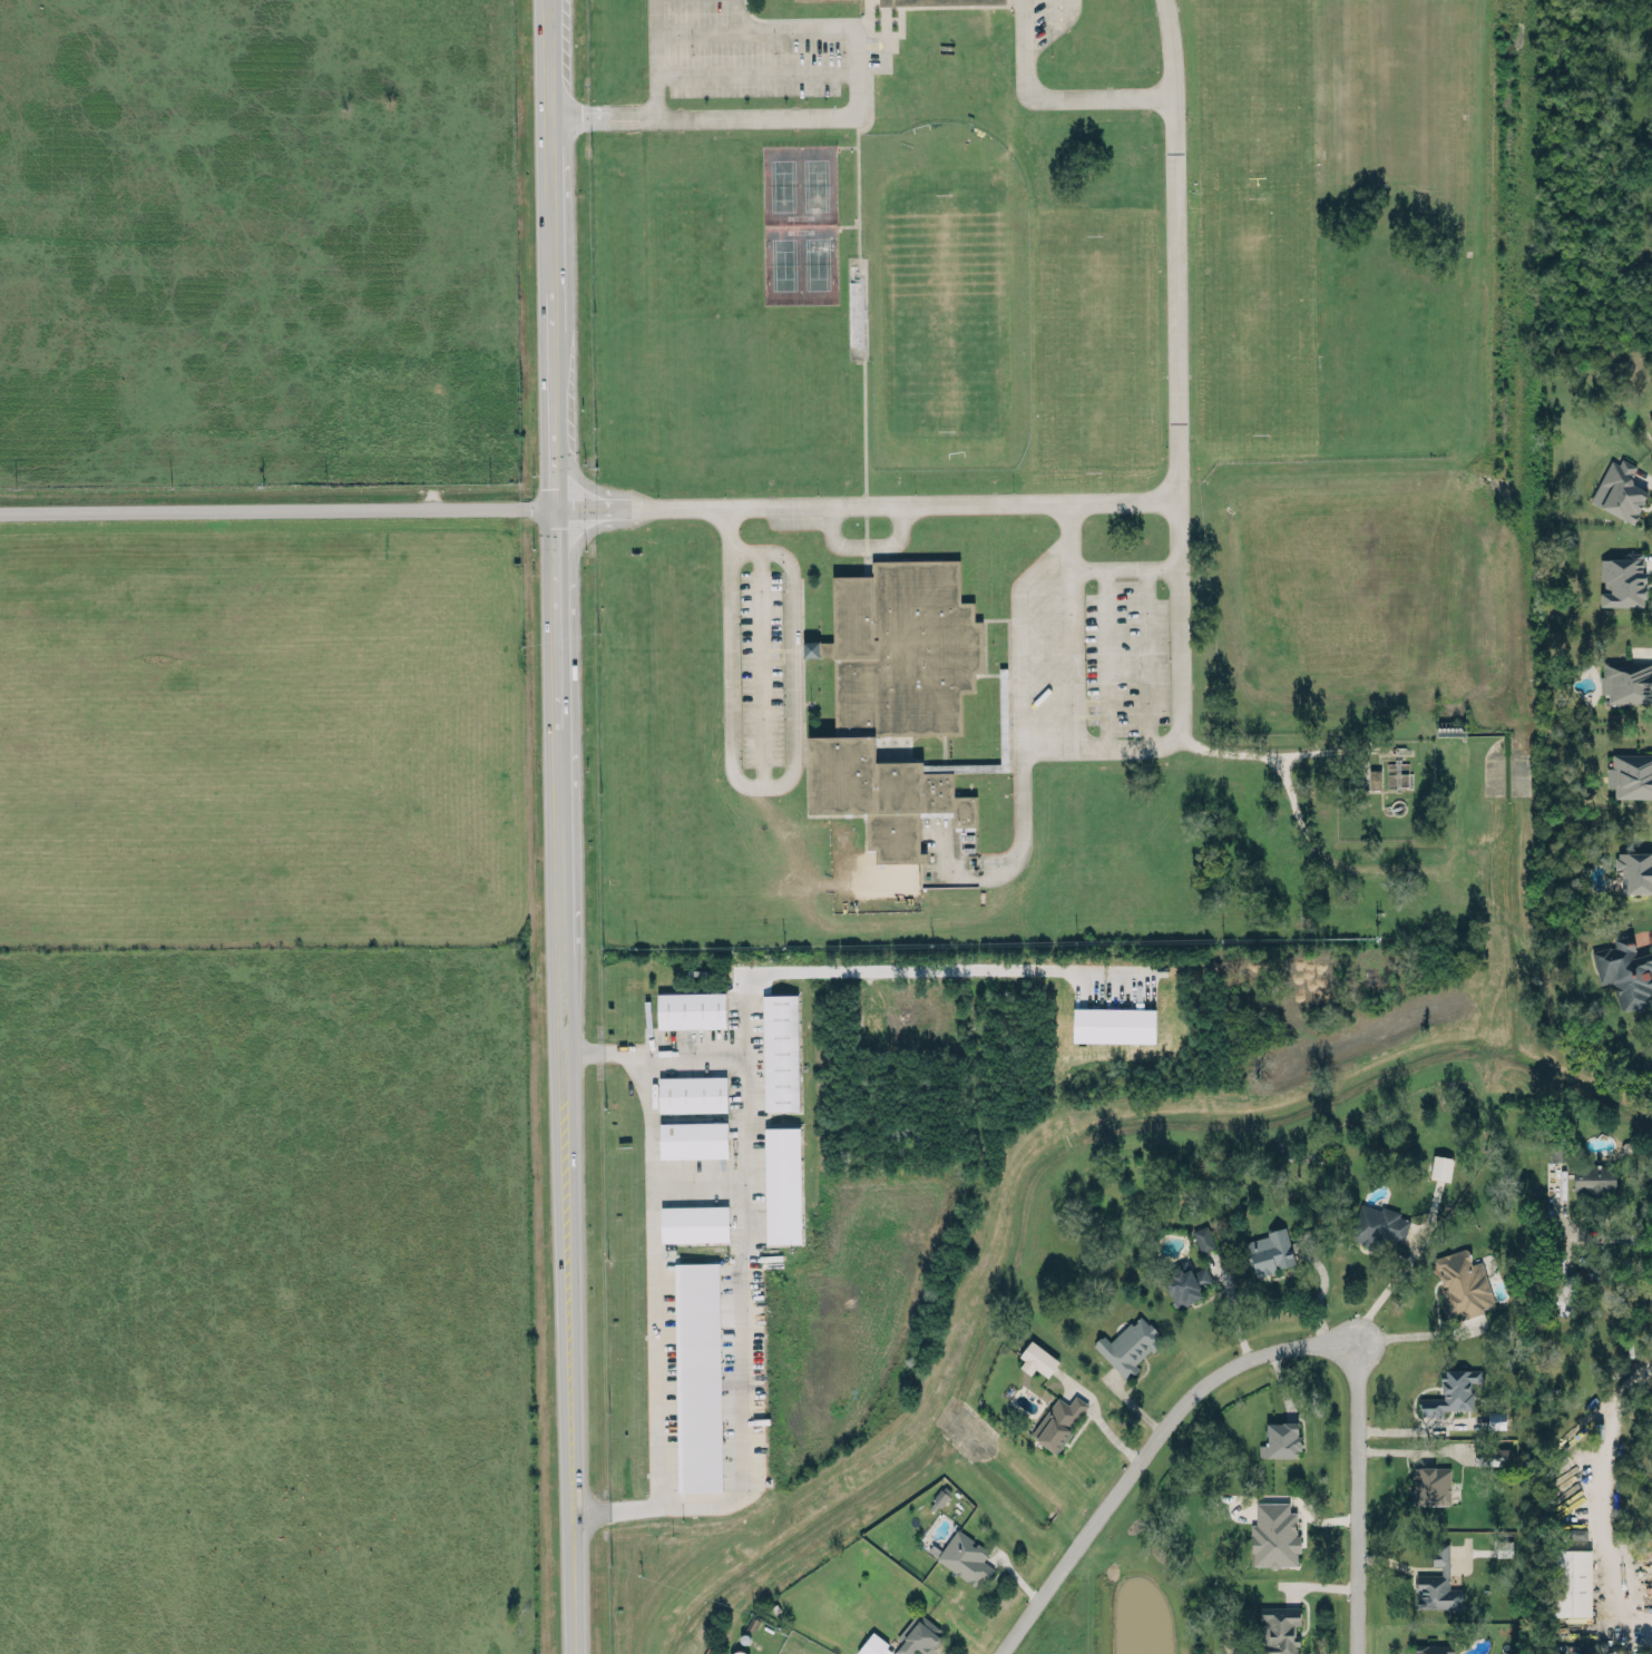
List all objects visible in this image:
building: (926, 0)
road: (735, 12)
road: (655, 58)
road: (757, 72)
road: (1057, 94)
road: (853, 112)
building: (1650, 415)
building: (1616, 490)
road: (868, 501)
road: (281, 509)
road: (861, 547)
road: (1111, 567)
building: (1622, 579)
road: (1177, 587)
road: (1145, 657)
road: (1072, 658)
road: (1105, 658)
building: (1625, 678)
building: (895, 697)
road: (1248, 752)
road: (565, 756)
building: (1631, 774)
building: (1375, 777)
road: (766, 785)
building: (1635, 867)
road: (871, 969)
building: (1625, 972)
building: (691, 1008)
road: (607, 1048)
building: (780, 1050)
building: (692, 1092)
building: (693, 1138)
building: (1556, 1148)
building: (1440, 1166)
building: (1593, 1177)
road: (745, 1184)
building: (782, 1184)
building: (694, 1222)
building: (1378, 1224)
road: (1623, 1227)
building: (1203, 1237)
building: (1268, 1252)
building: (1185, 1282)
building: (1463, 1282)
road: (1380, 1292)
building: (1565, 1293)
road: (1404, 1333)
building: (1130, 1344)
building: (1036, 1359)
building: (697, 1376)
building: (1451, 1391)
building: (1496, 1418)
building: (1058, 1421)
building: (1280, 1438)
road: (1415, 1449)
road: (1146, 1452)
building: (1492, 1455)
building: (1430, 1484)
road: (1594, 1492)
road: (1359, 1498)
road: (693, 1501)
road: (614, 1508)
building: (1573, 1531)
building: (1274, 1533)
building: (1504, 1547)
building: (965, 1559)
building: (1571, 1580)
building: (1437, 1582)
road: (575, 1584)
building: (1281, 1628)
building: (917, 1637)
building: (874, 1645)
building: (1433, 1648)

